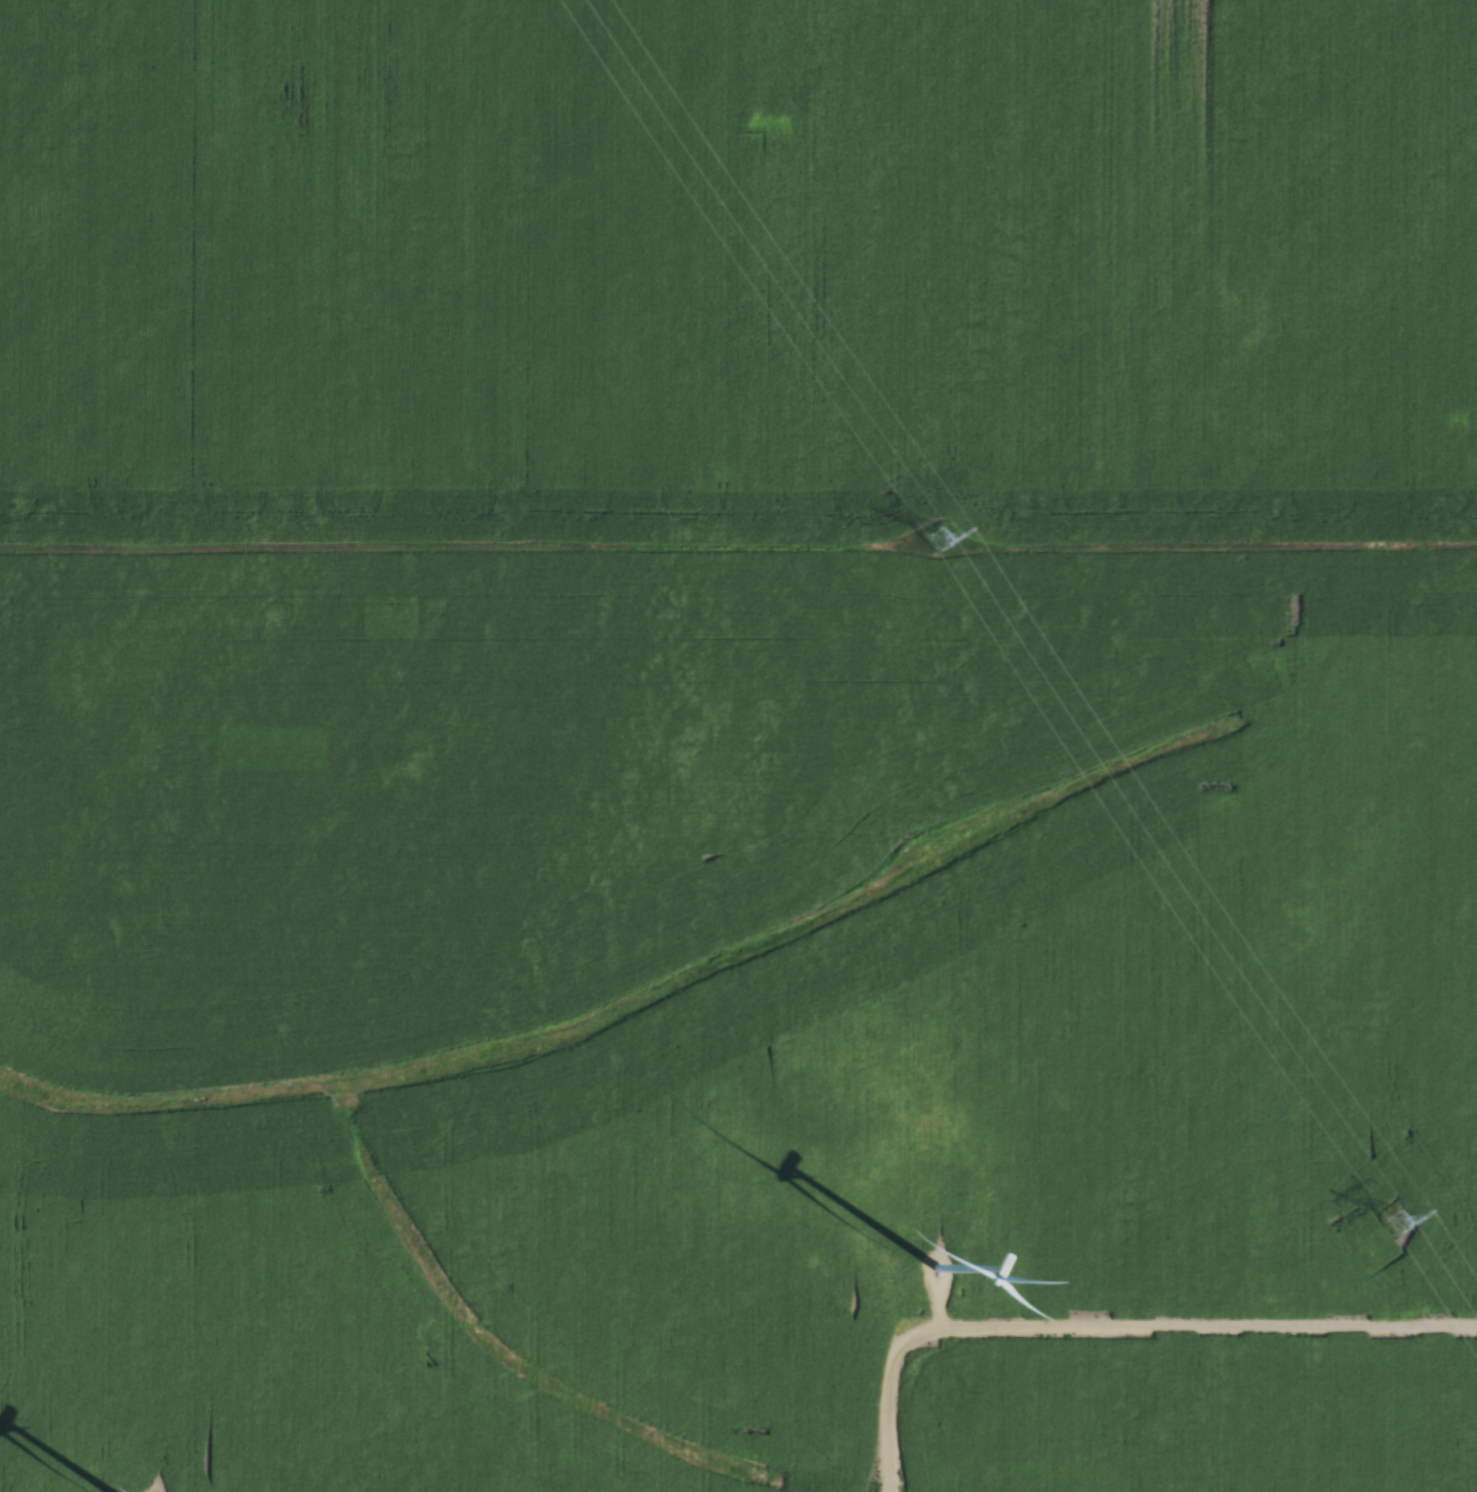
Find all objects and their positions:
power tower: (938, 539)
power tower: (1398, 1222)
wind turbine: (941, 1271)

